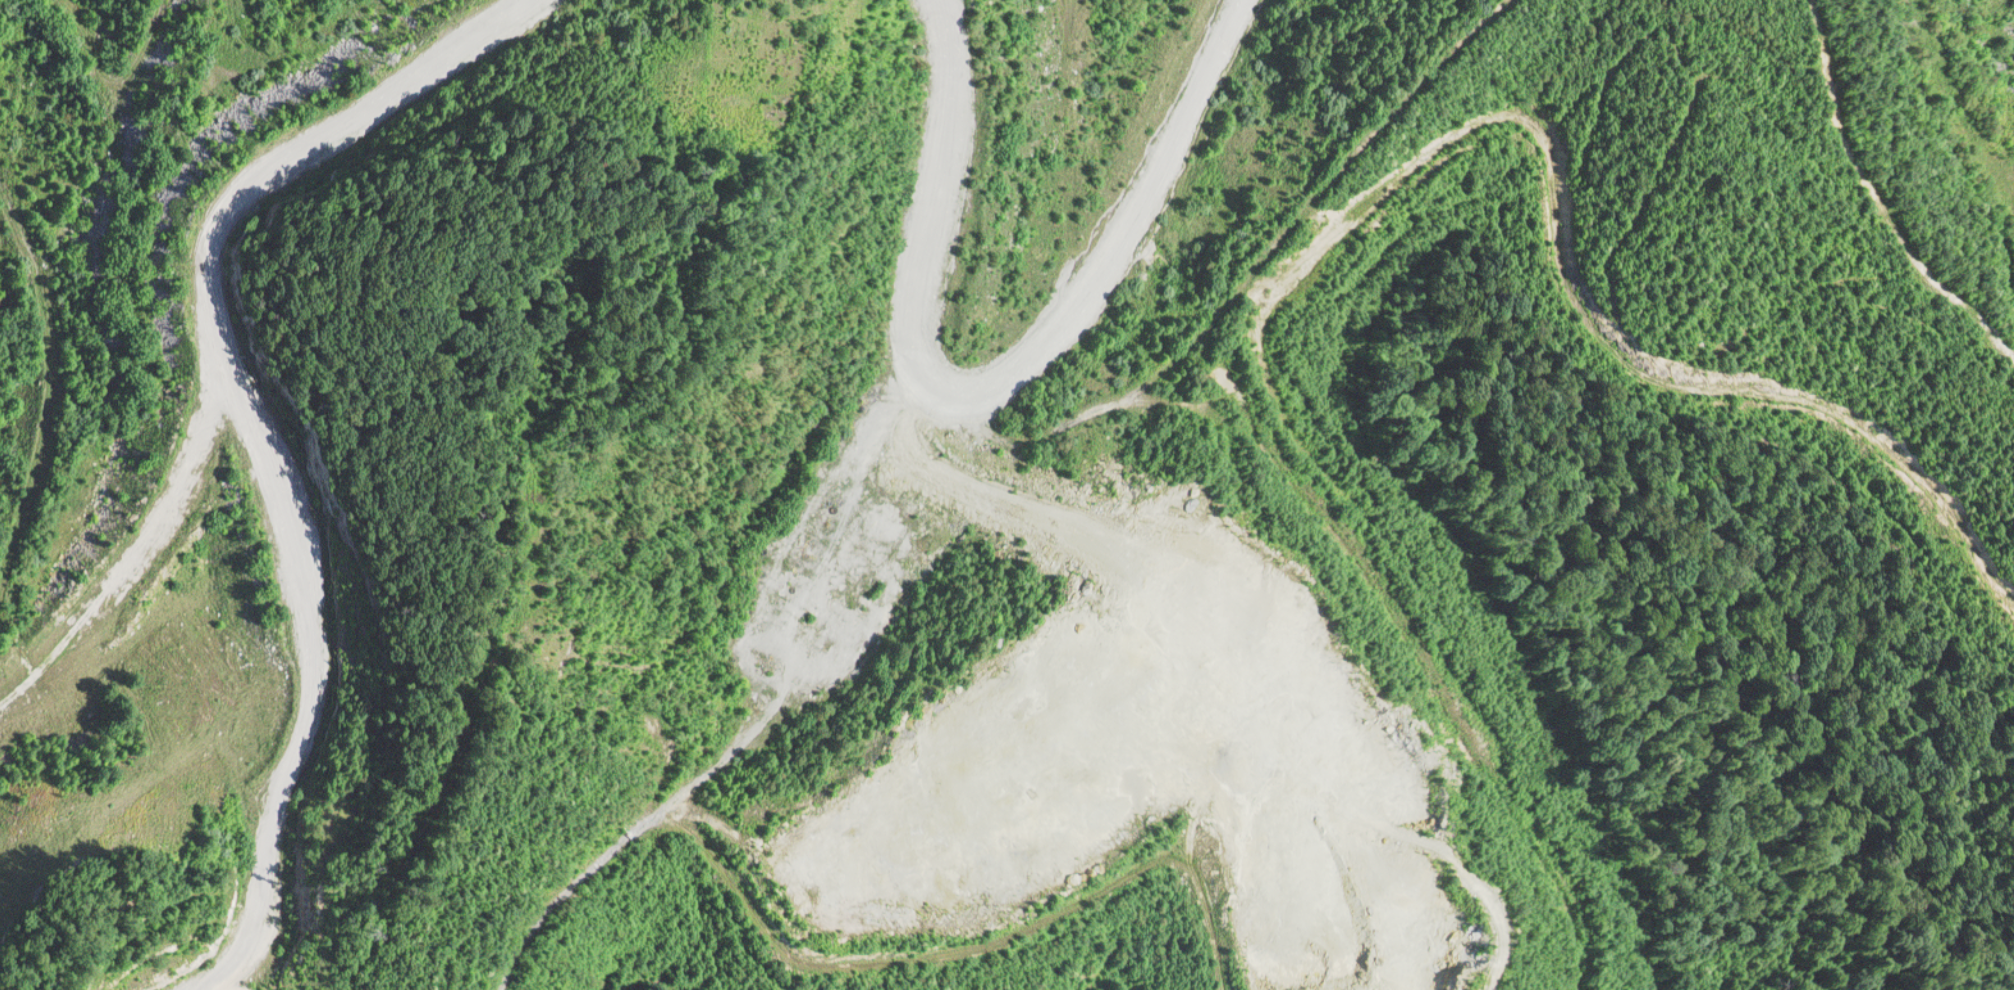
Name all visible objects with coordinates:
quarry: (1007, 495)

